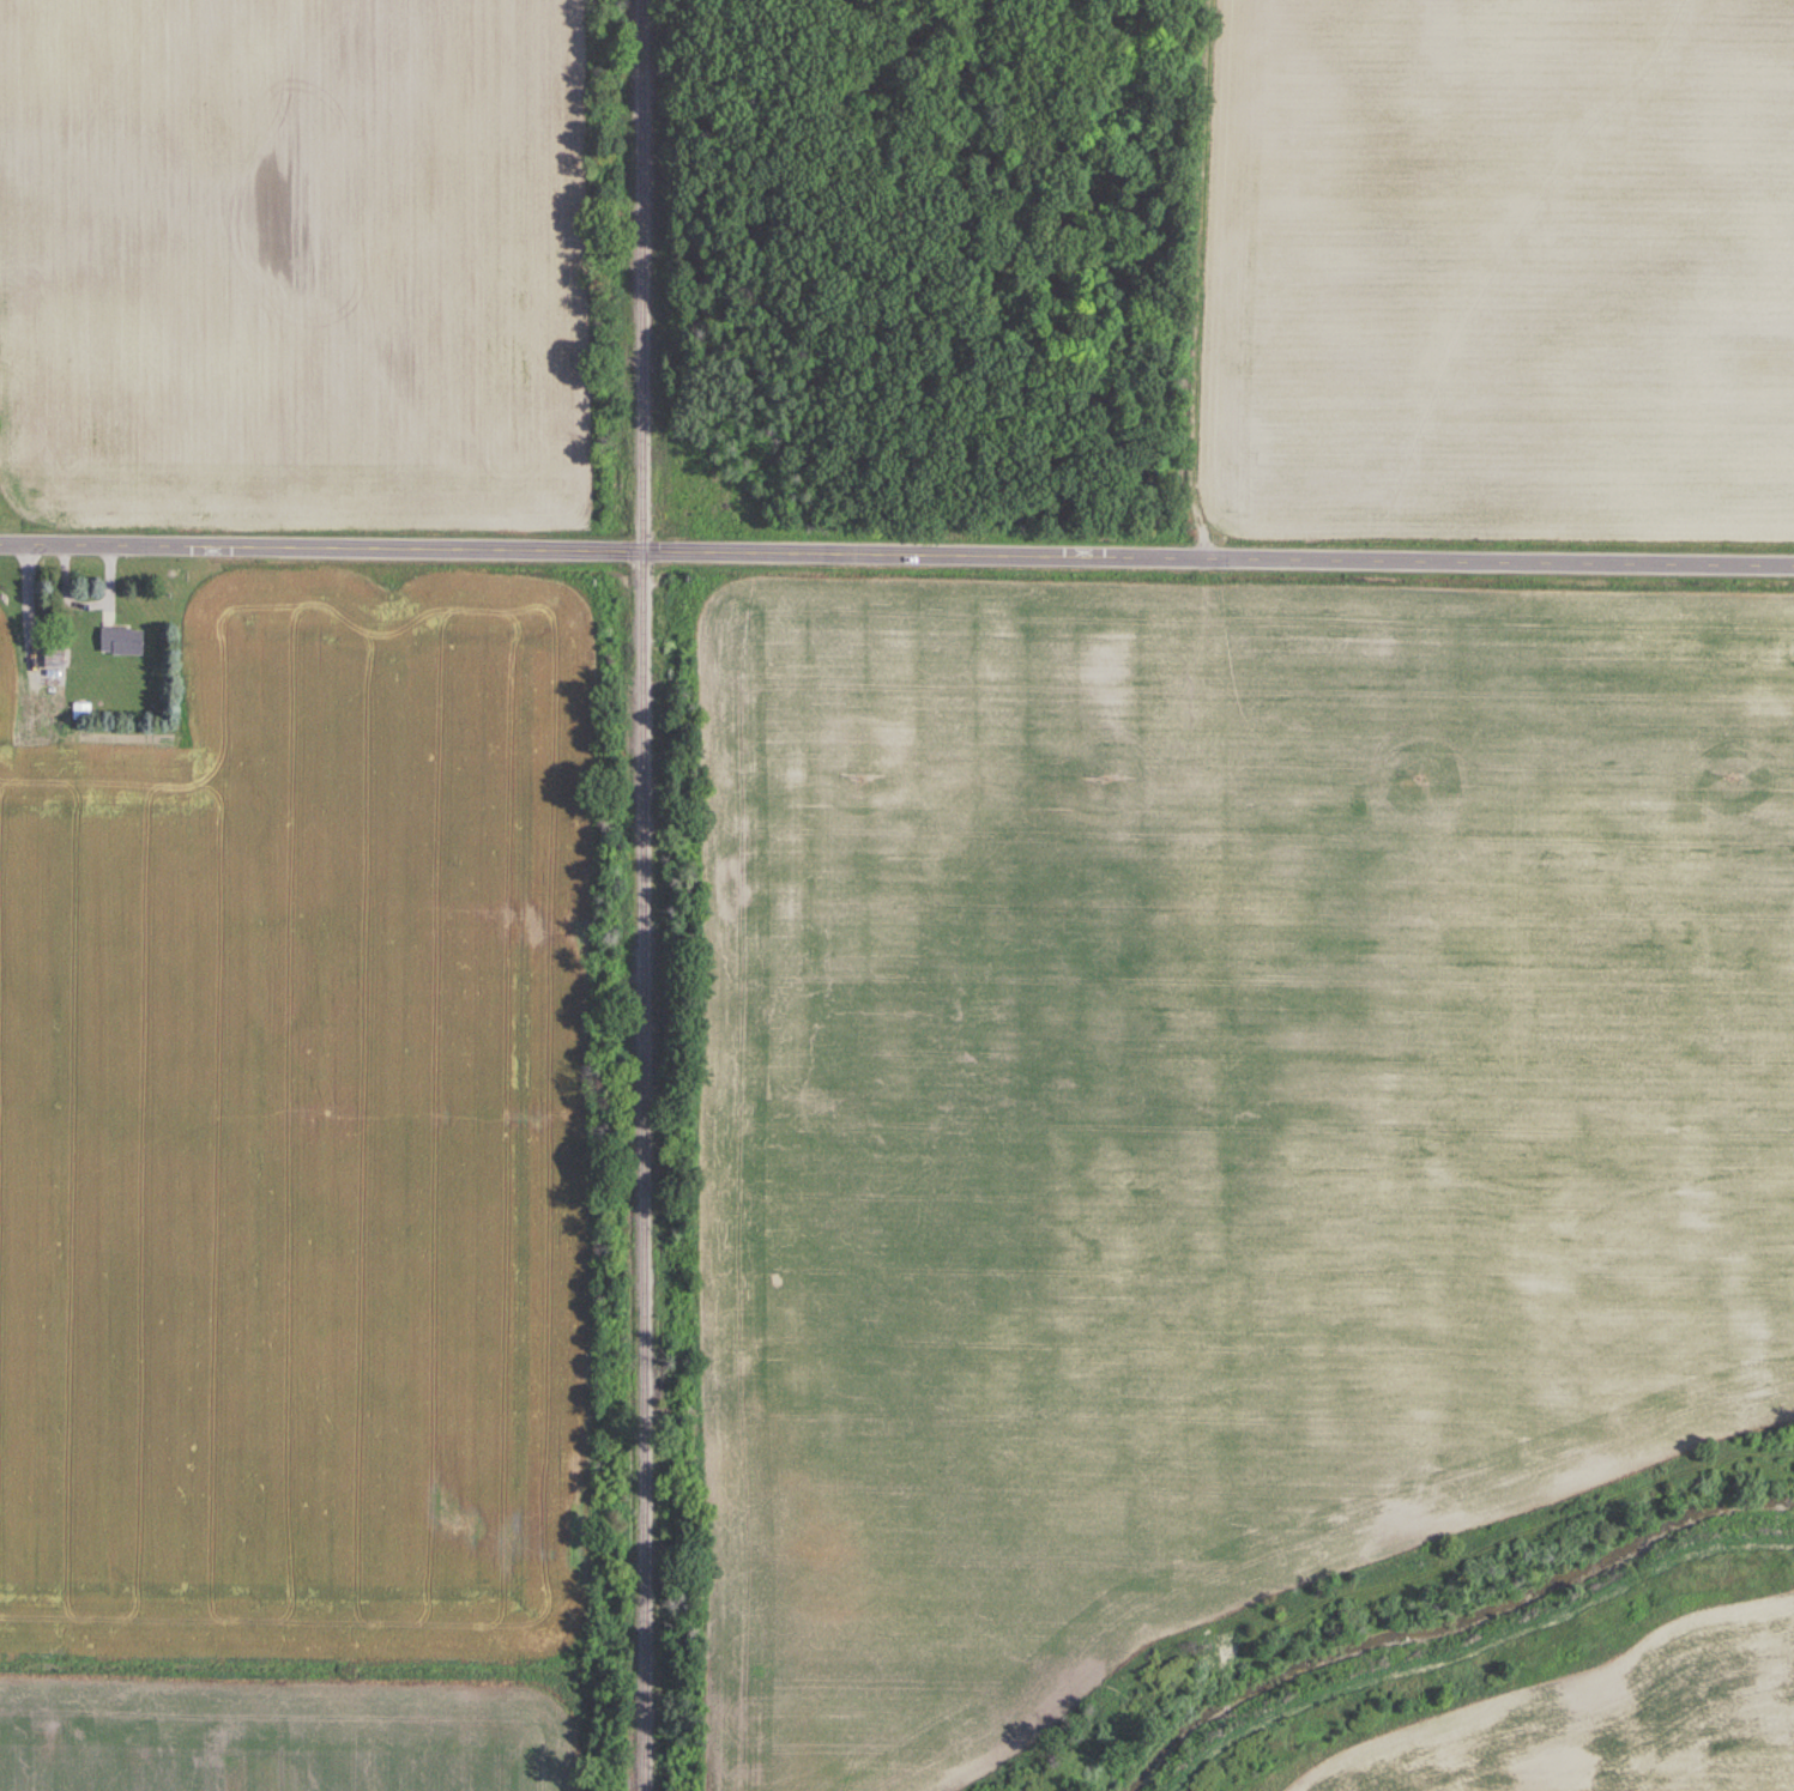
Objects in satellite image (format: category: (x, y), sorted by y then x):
road: (896, 555)
building: (117, 642)
railway: (642, 895)

